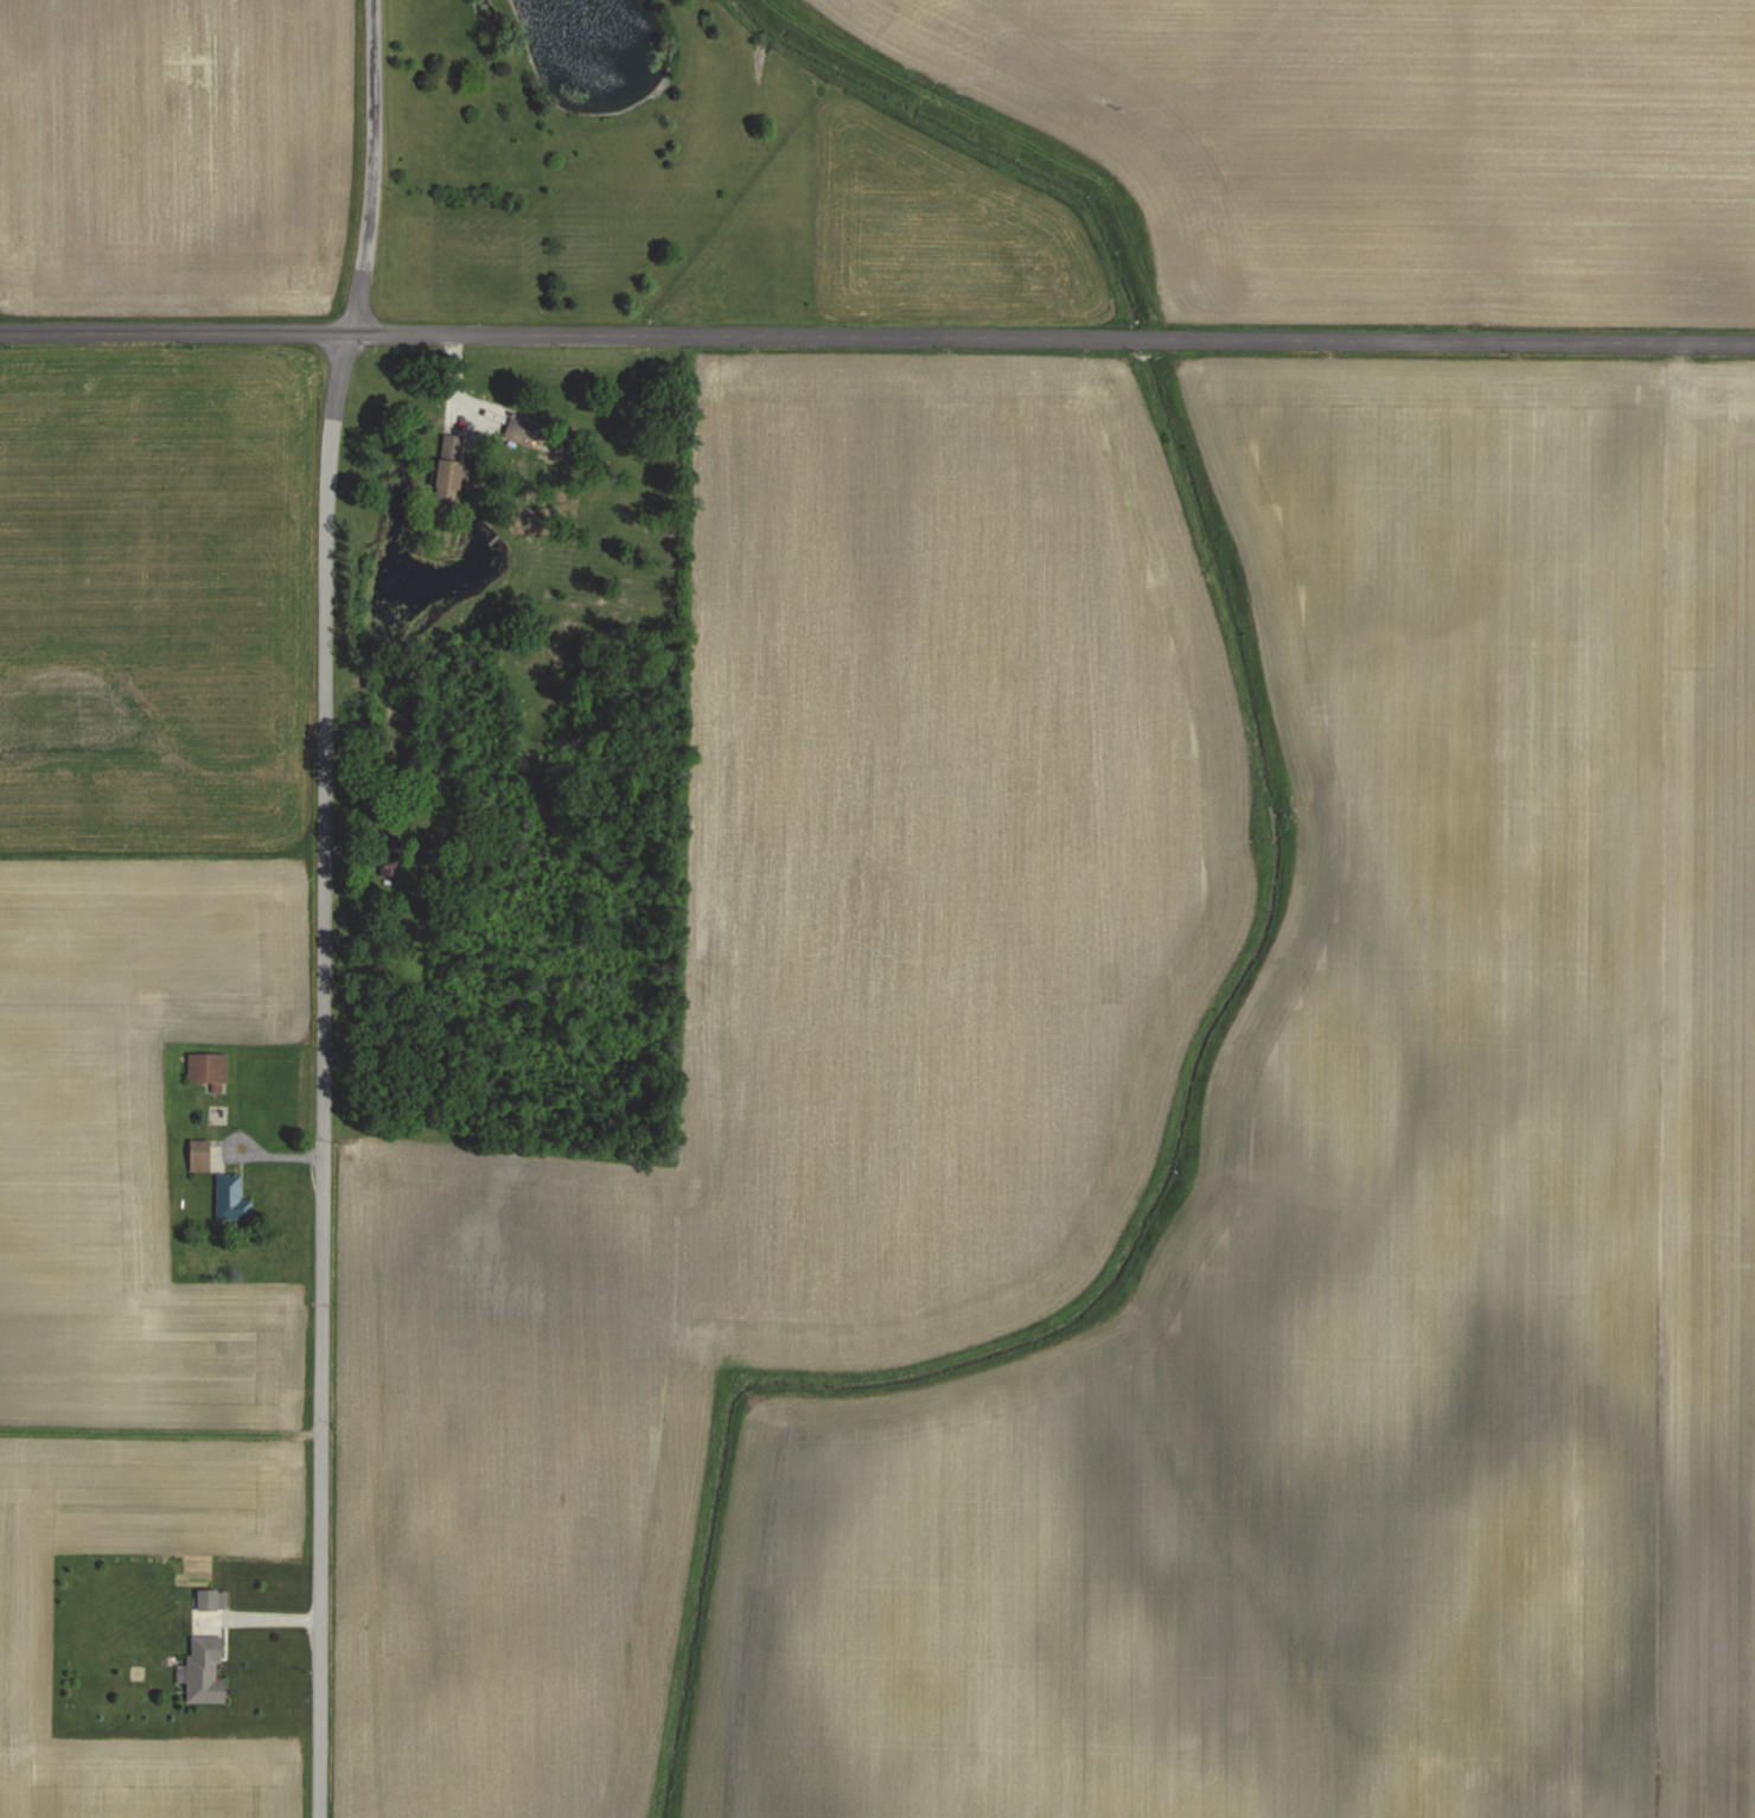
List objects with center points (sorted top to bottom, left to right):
road: (877, 338)
building: (457, 470)
road: (318, 906)
building: (211, 1070)
building: (202, 1155)
building: (235, 1198)
building: (210, 1669)

